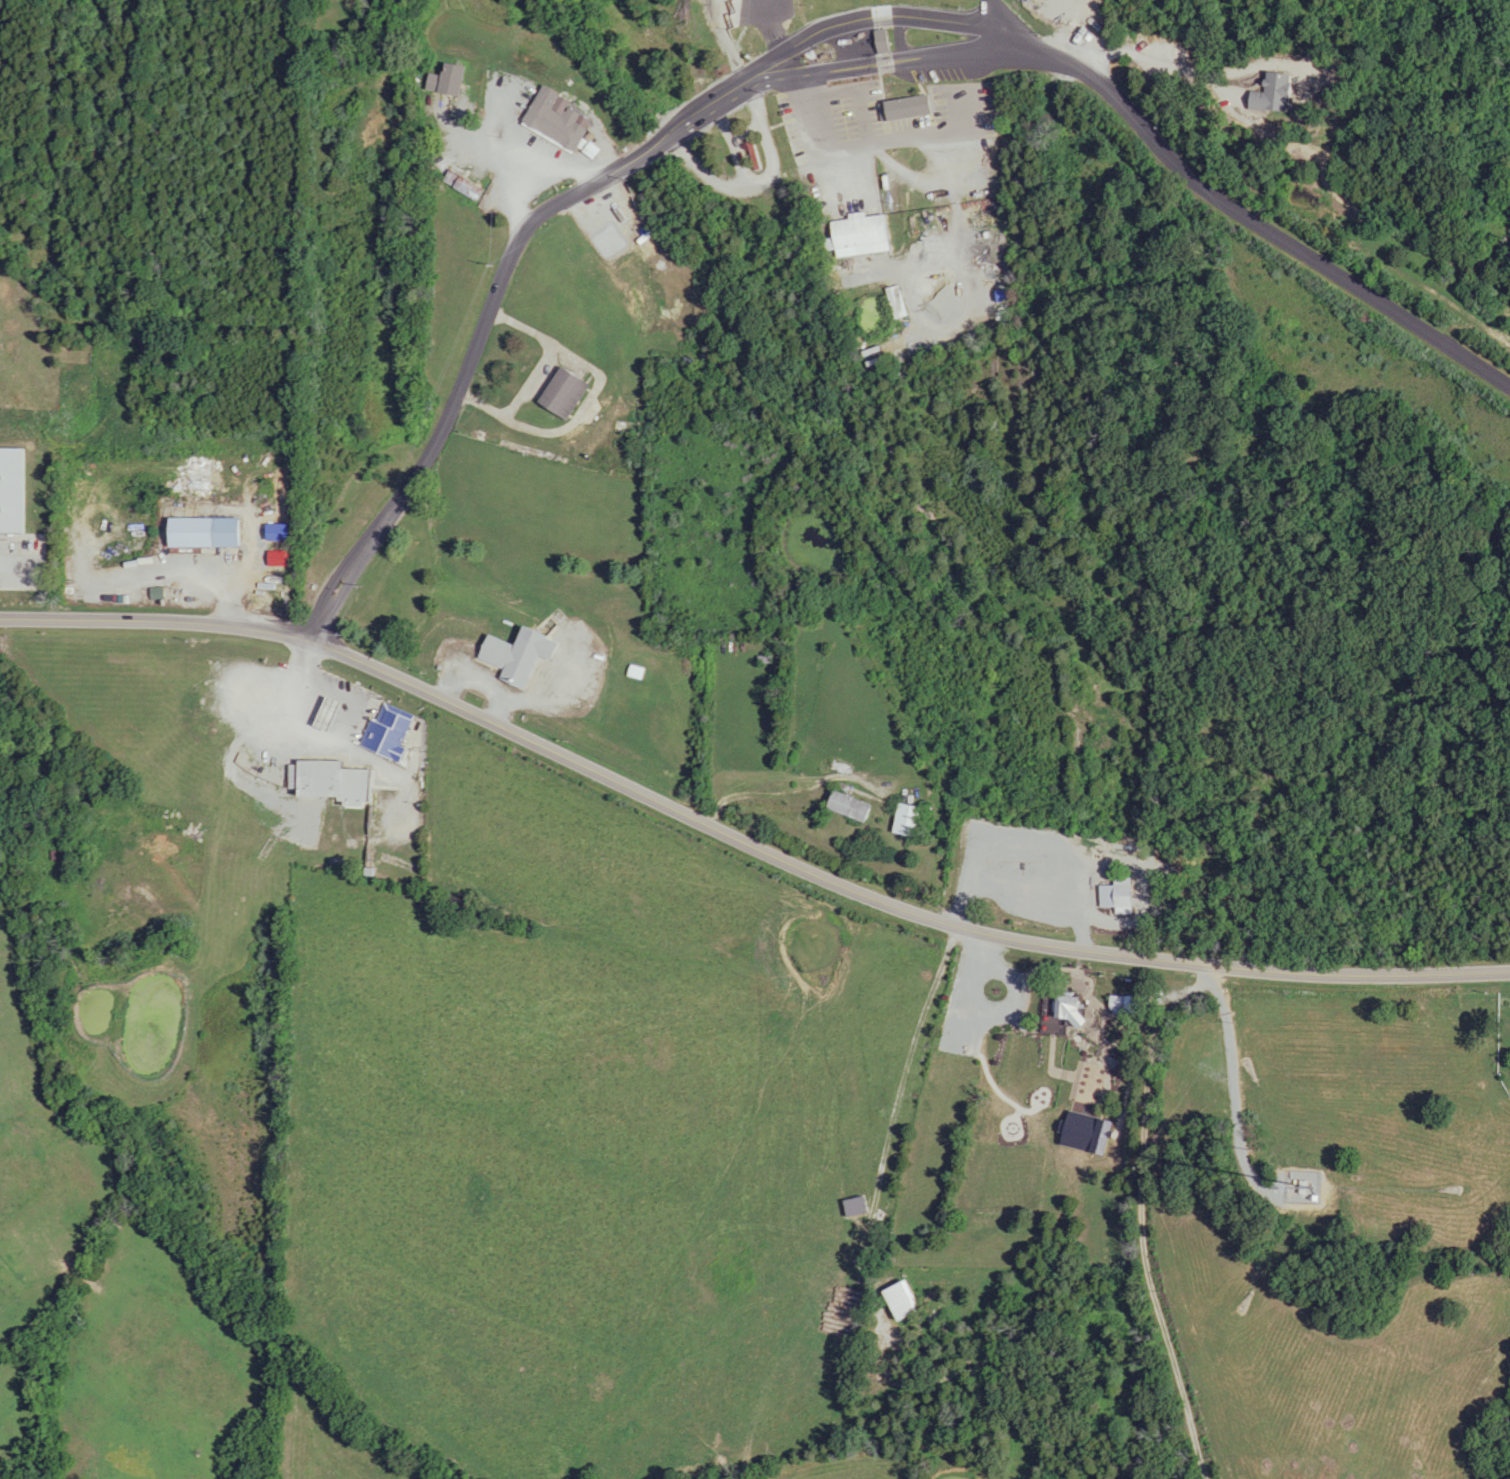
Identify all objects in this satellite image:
road: (901, 20)
road: (1006, 24)
road: (727, 41)
building: (887, 41)
road: (780, 43)
road: (1152, 60)
road: (818, 72)
building: (456, 81)
building: (1266, 93)
building: (914, 108)
building: (560, 120)
road: (492, 164)
road: (538, 171)
building: (866, 235)
building: (900, 302)
building: (569, 393)
building: (231, 473)
building: (203, 474)
building: (211, 531)
building: (3, 567)
building: (524, 654)
building: (128, 657)
building: (760, 659)
building: (394, 734)
building: (340, 780)
building: (842, 806)
building: (902, 820)
building: (314, 827)
road: (741, 842)
building: (1010, 884)
building: (1116, 887)
building: (1061, 1007)
building: (1298, 1188)
road: (1170, 1222)
building: (893, 1301)

